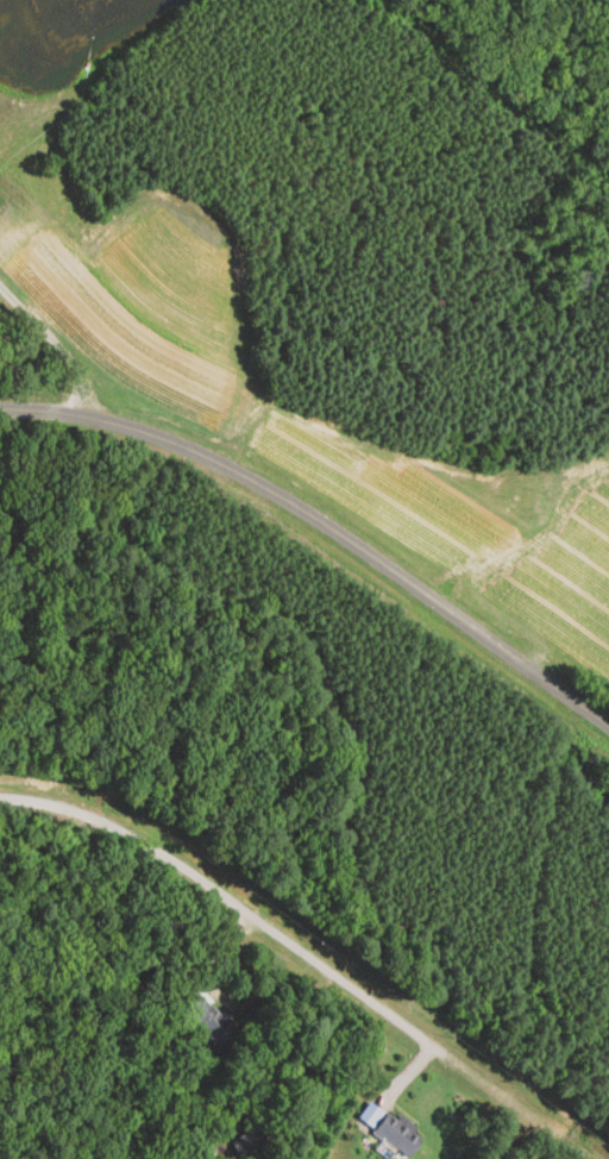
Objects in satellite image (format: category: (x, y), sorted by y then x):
road: (55, 343)
road: (324, 522)
road: (236, 907)
building: (208, 1020)
road: (522, 1109)
building: (398, 1135)
road: (510, 1135)

